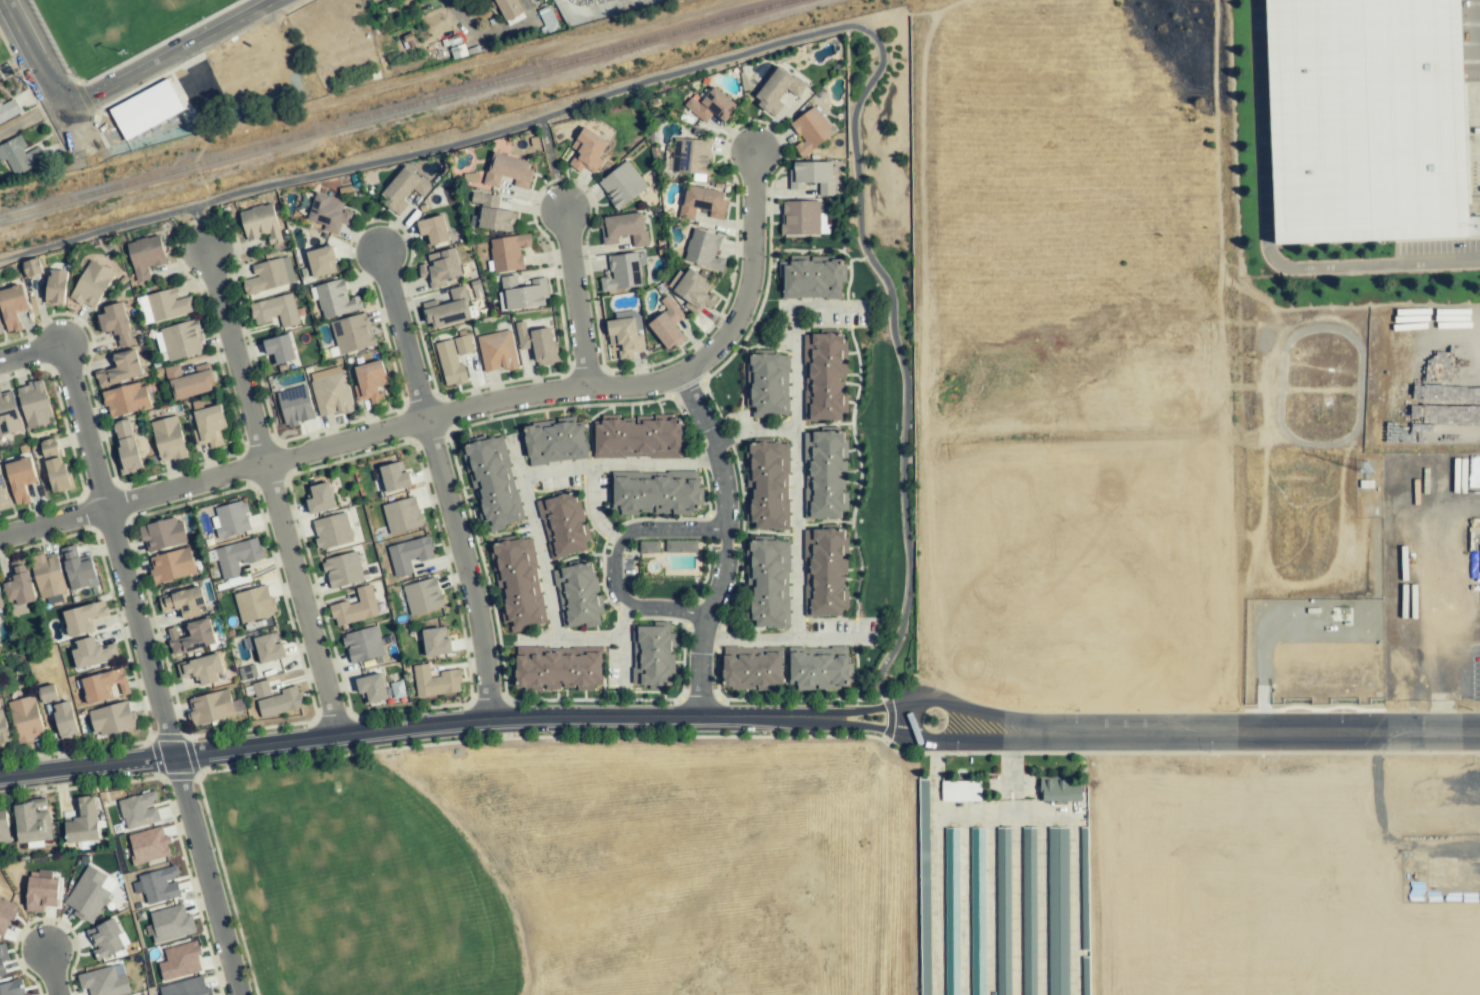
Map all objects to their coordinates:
building: (508, 8)
road: (496, 31)
road: (780, 44)
building: (456, 47)
road: (167, 54)
building: (0, 77)
road: (49, 81)
building: (778, 89)
building: (710, 106)
building: (146, 109)
railway: (396, 109)
building: (8, 110)
road: (30, 117)
building: (1358, 119)
building: (810, 131)
building: (587, 151)
building: (19, 155)
building: (690, 156)
road: (551, 161)
building: (508, 171)
building: (813, 176)
building: (622, 185)
building: (403, 189)
building: (703, 203)
building: (329, 213)
building: (492, 213)
building: (803, 218)
building: (260, 223)
road: (198, 227)
building: (624, 229)
building: (433, 230)
road: (1258, 236)
building: (704, 250)
building: (508, 252)
building: (145, 256)
building: (320, 261)
building: (31, 267)
building: (439, 268)
building: (624, 271)
road: (751, 274)
building: (269, 275)
building: (811, 278)
building: (91, 285)
building: (56, 286)
building: (692, 290)
building: (522, 293)
road: (574, 296)
building: (336, 299)
building: (12, 307)
road: (831, 308)
building: (448, 309)
building: (275, 311)
building: (115, 323)
building: (667, 324)
building: (0, 331)
building: (352, 333)
road: (400, 334)
building: (623, 336)
building: (182, 340)
building: (537, 343)
building: (279, 350)
building: (497, 351)
road: (31, 352)
road: (233, 355)
building: (453, 359)
building: (120, 368)
building: (822, 375)
building: (189, 381)
building: (369, 382)
building: (767, 384)
building: (330, 392)
building: (126, 400)
building: (34, 404)
building: (8, 414)
building: (209, 425)
building: (637, 437)
building: (168, 439)
road: (339, 441)
building: (553, 441)
building: (126, 446)
building: (49, 449)
road: (662, 461)
building: (823, 472)
road: (797, 473)
building: (57, 474)
building: (394, 478)
building: (20, 479)
building: (492, 481)
building: (767, 484)
building: (655, 492)
building: (3, 495)
building: (320, 498)
road: (593, 509)
building: (402, 515)
building: (231, 519)
building: (562, 524)
building: (331, 531)
building: (163, 534)
road: (535, 537)
road: (724, 542)
building: (681, 546)
building: (408, 555)
building: (236, 557)
road: (614, 559)
building: (171, 565)
road: (467, 566)
building: (77, 569)
building: (342, 570)
building: (824, 571)
building: (48, 574)
building: (768, 581)
building: (517, 583)
building: (19, 584)
building: (576, 595)
building: (423, 596)
road: (299, 600)
building: (183, 602)
building: (253, 604)
building: (355, 607)
building: (1, 609)
building: (82, 618)
building: (191, 637)
road: (569, 638)
road: (788, 638)
building: (436, 642)
road: (620, 644)
building: (363, 645)
building: (268, 649)
building: (91, 653)
building: (557, 668)
building: (751, 668)
building: (818, 668)
road: (147, 669)
building: (202, 669)
building: (434, 681)
building: (104, 685)
building: (371, 688)
building: (47, 693)
building: (275, 699)
building: (210, 707)
road: (859, 712)
road: (991, 715)
building: (26, 719)
building: (64, 719)
building: (111, 719)
road: (856, 725)
road: (400, 728)
building: (3, 730)
road: (1284, 732)
road: (990, 740)
building: (1053, 789)
building: (960, 791)
building: (139, 810)
building: (83, 822)
building: (4, 827)
building: (148, 845)
building: (157, 885)
building: (41, 891)
building: (90, 894)
building: (6, 915)
building: (170, 924)
building: (106, 938)
building: (2, 959)
building: (180, 961)
road: (50, 972)
building: (104, 981)
building: (186, 987)
building: (11, 988)
building: (978, 992)

